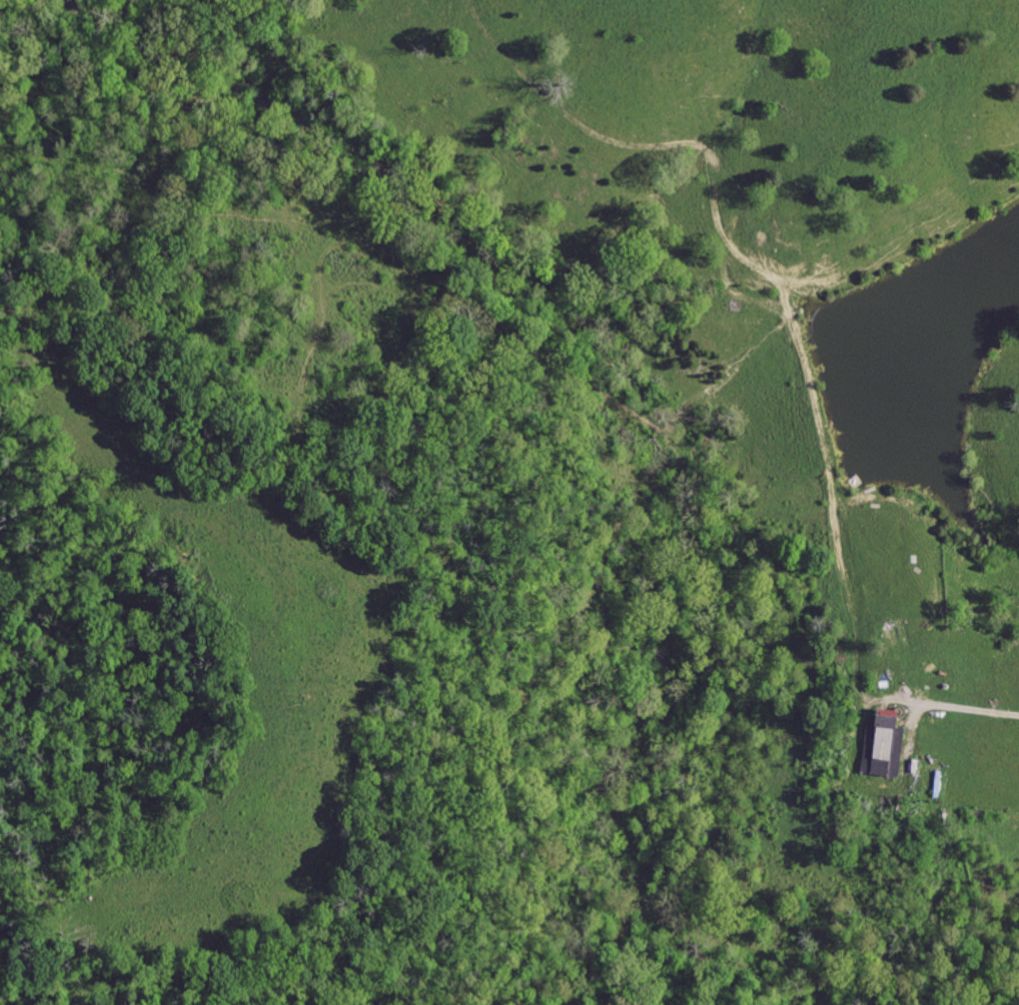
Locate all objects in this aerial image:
road: (976, 707)
building: (883, 745)

